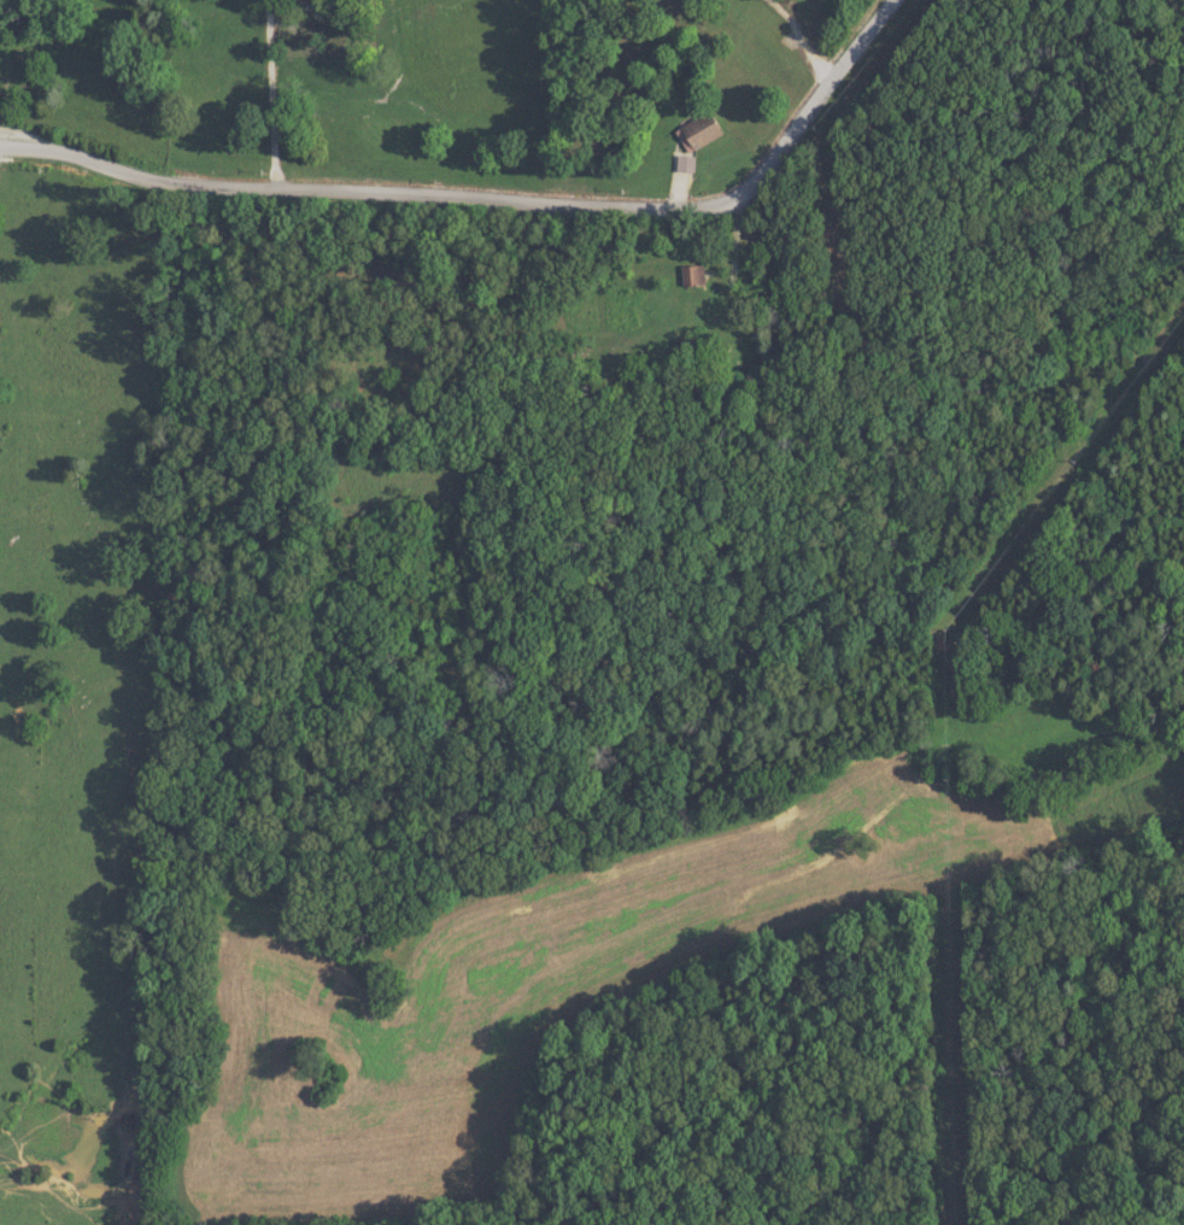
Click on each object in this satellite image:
road: (793, 47)
building: (694, 133)
building: (681, 164)
road: (674, 186)
road: (502, 201)
building: (687, 275)

